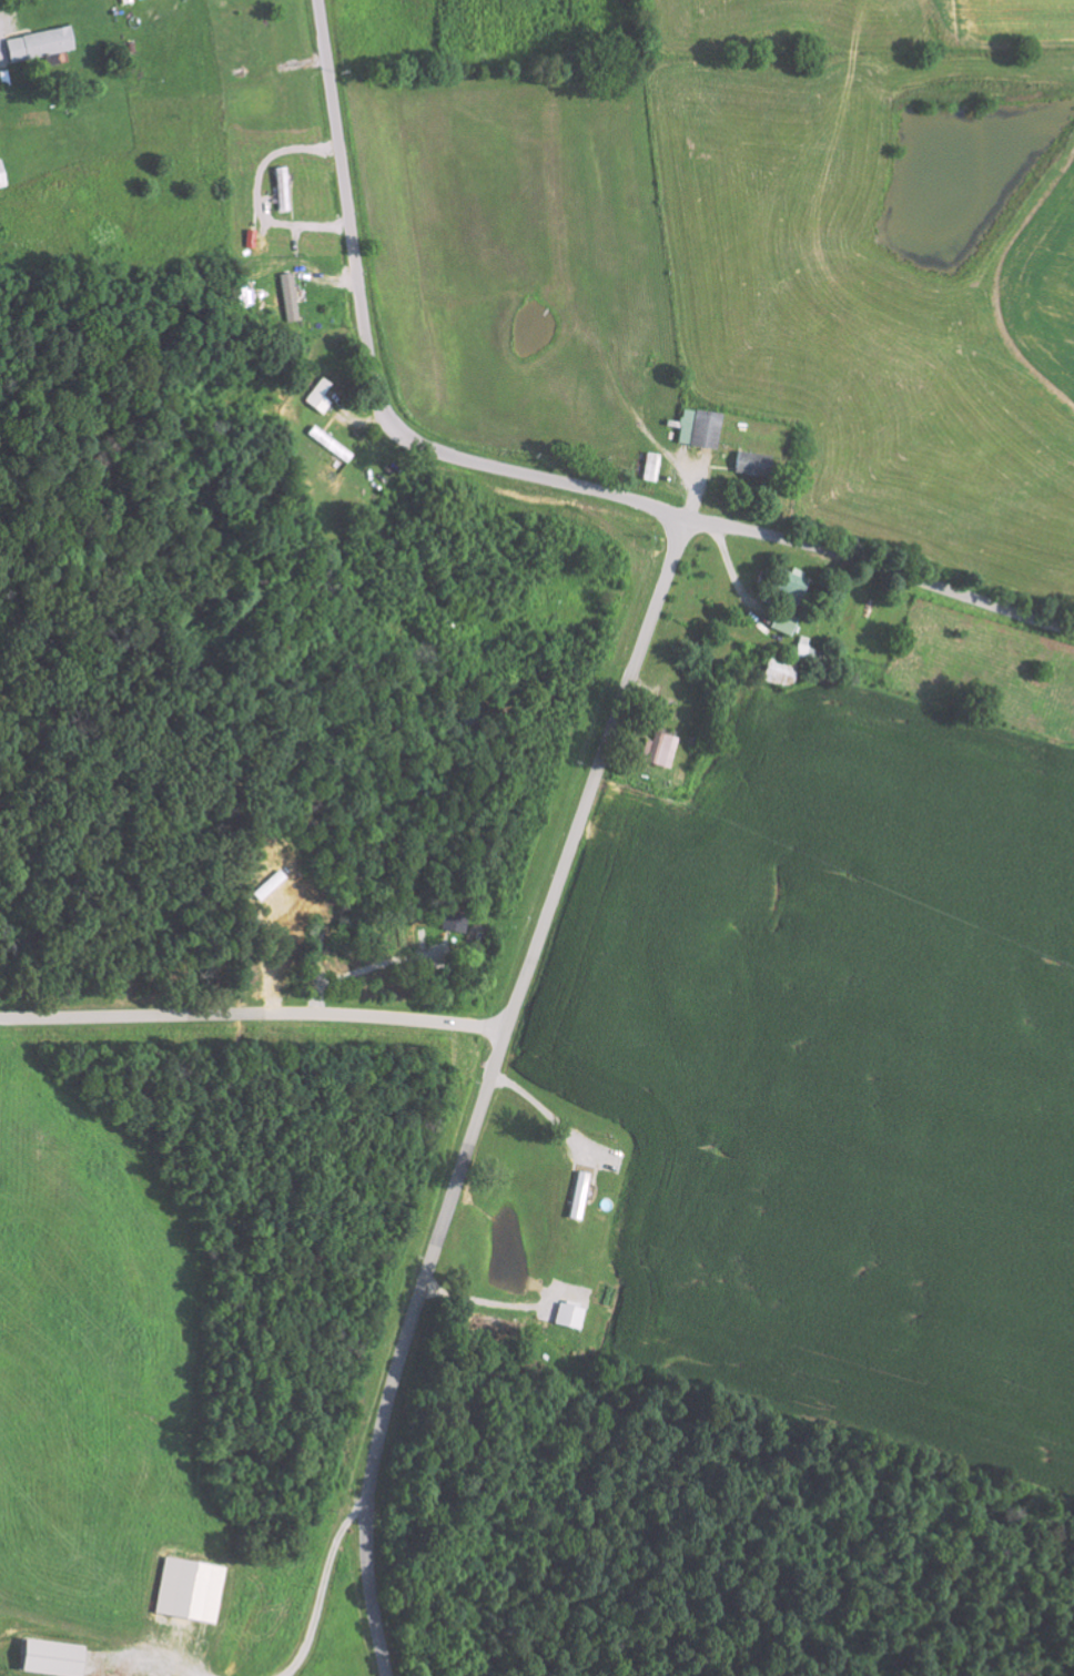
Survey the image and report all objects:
building: (39, 43)
building: (1, 177)
building: (288, 297)
building: (698, 427)
building: (328, 443)
building: (750, 463)
road: (525, 473)
building: (790, 586)
building: (782, 621)
building: (776, 671)
building: (657, 749)
road: (223, 846)
building: (452, 921)
road: (254, 1009)
road: (486, 1088)
building: (577, 1195)
building: (567, 1316)
building: (188, 1589)
building: (49, 1658)

